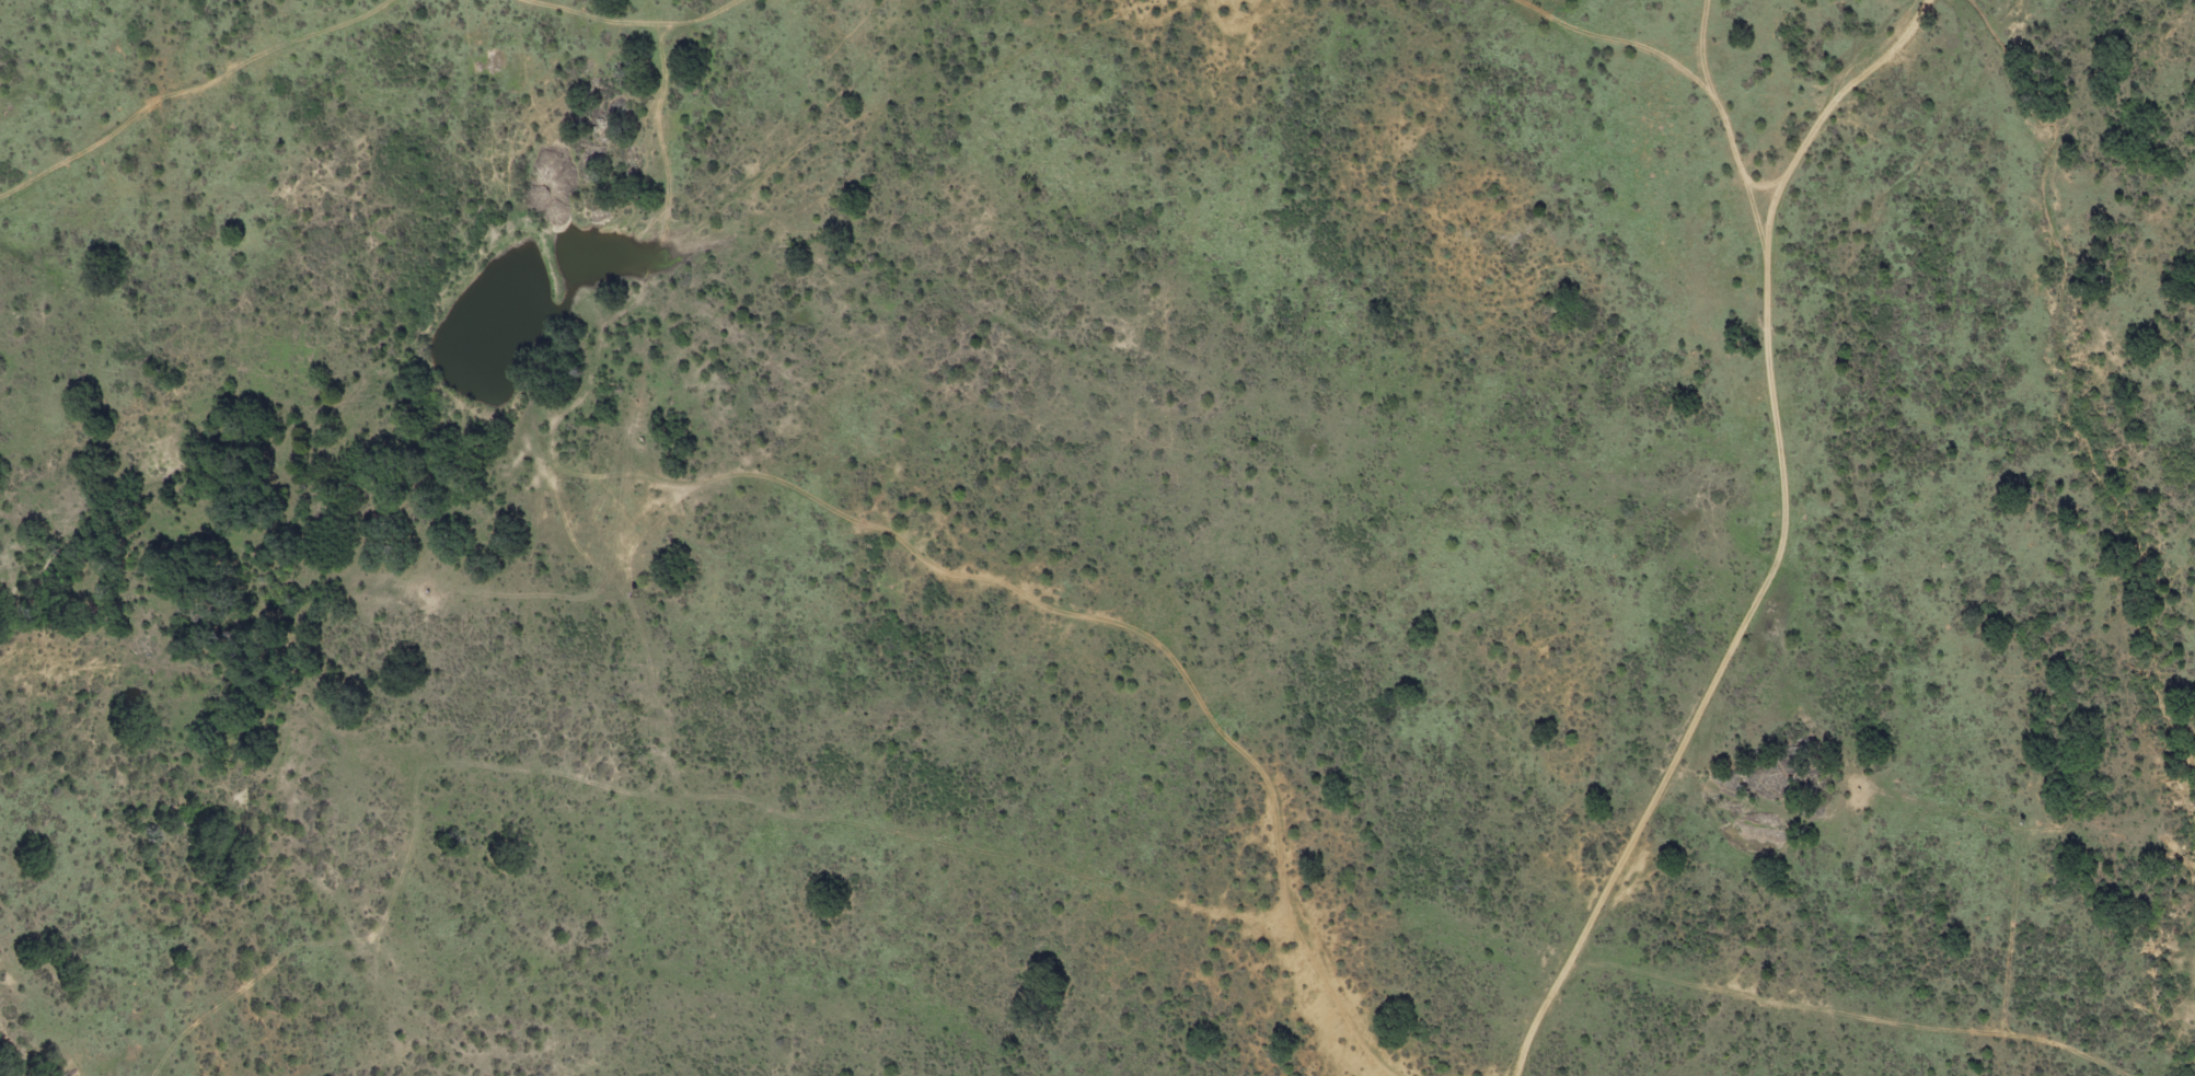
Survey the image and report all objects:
road: (1782, 540)

